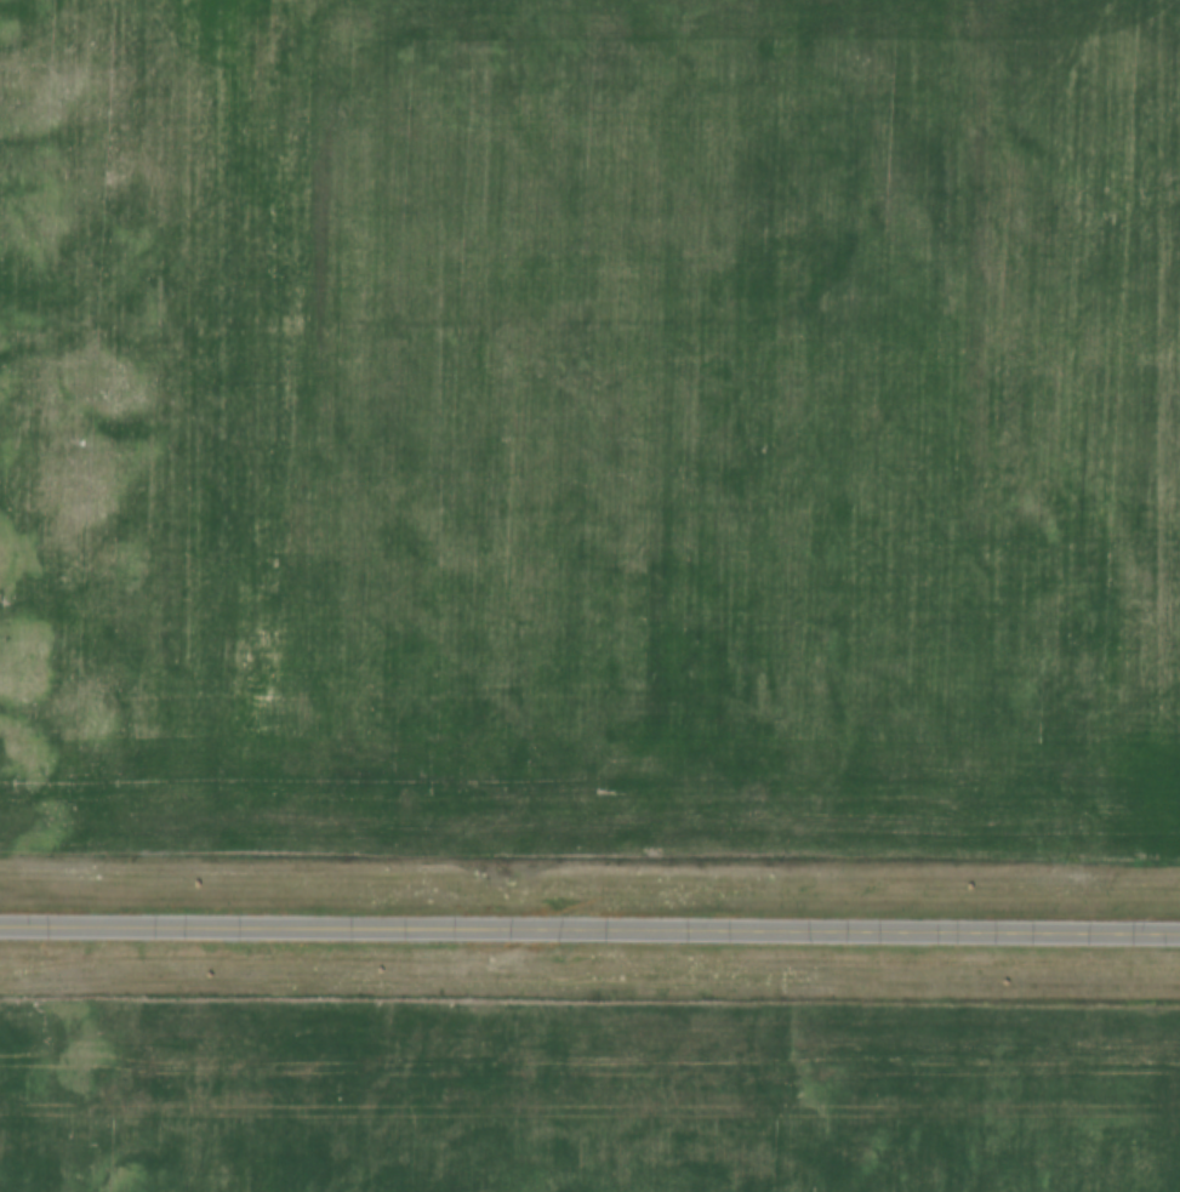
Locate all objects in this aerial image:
road: (589, 929)

